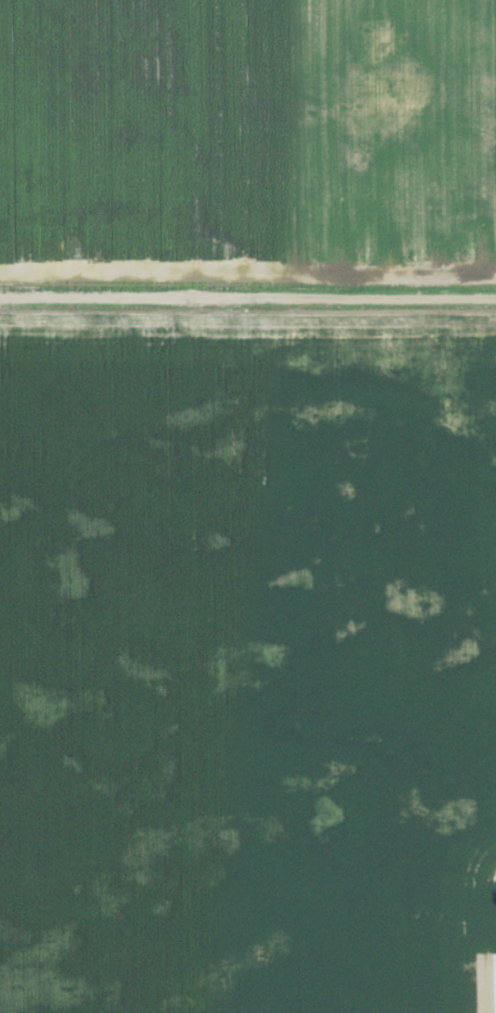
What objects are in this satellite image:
road: (248, 301)

